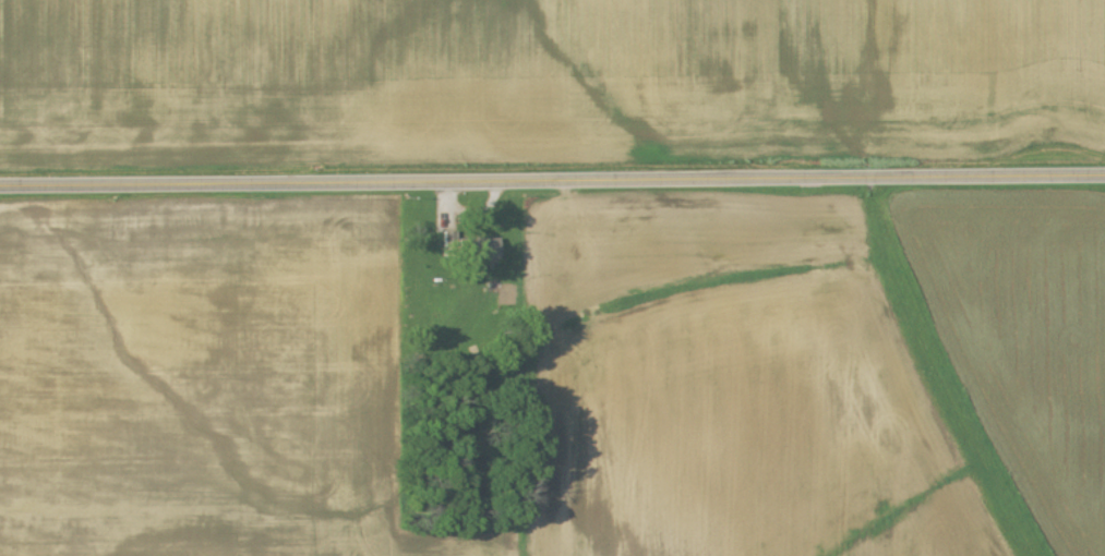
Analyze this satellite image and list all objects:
road: (552, 180)
building: (479, 250)

